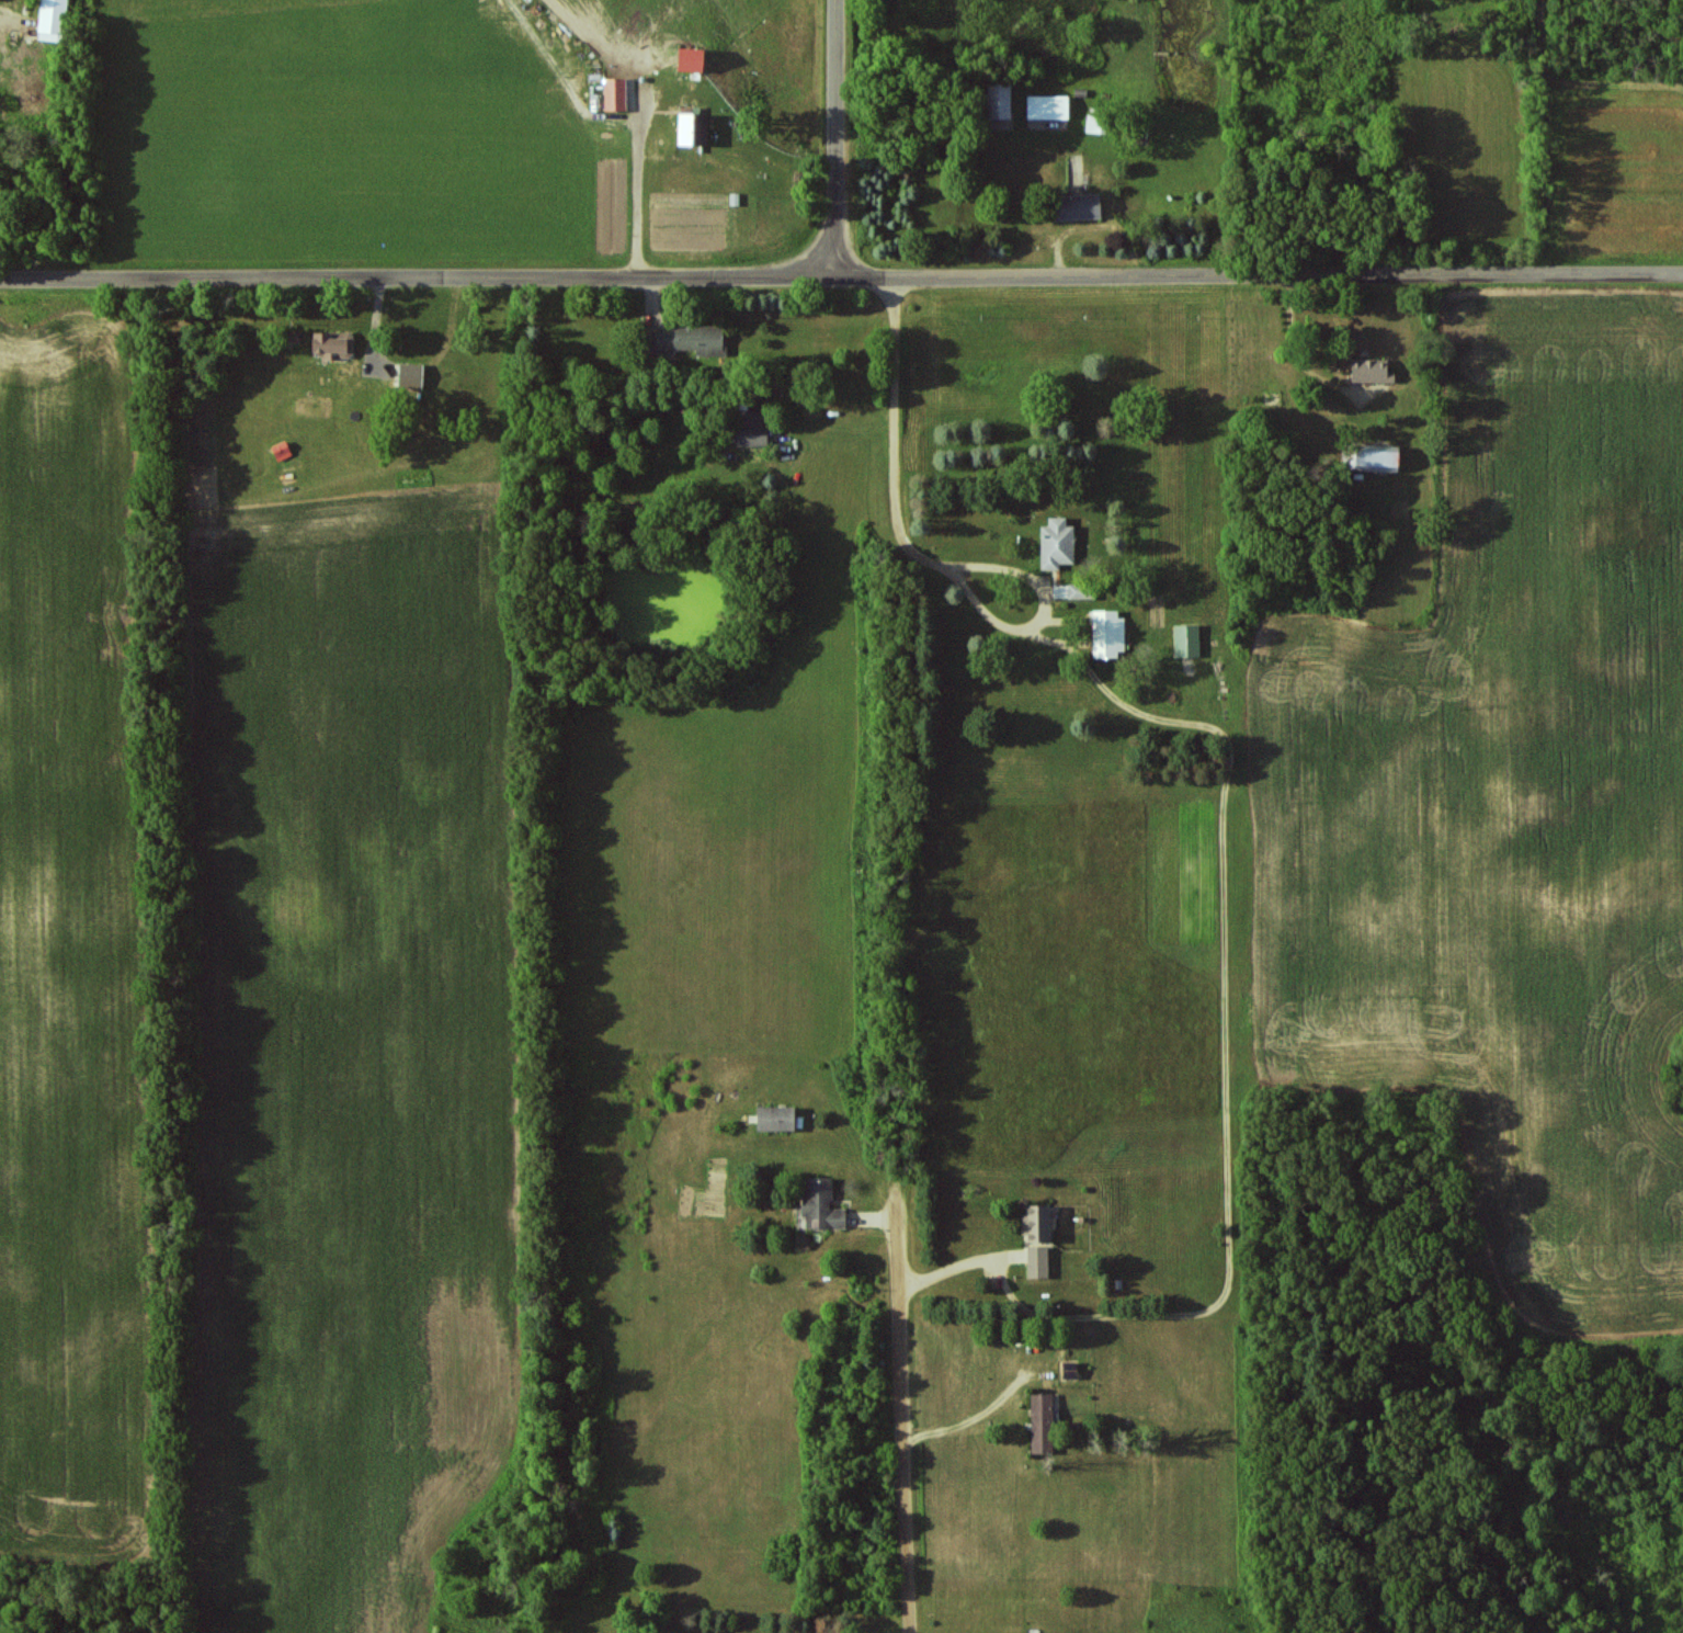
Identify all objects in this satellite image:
building: (55, 20)
building: (695, 59)
building: (617, 94)
building: (1050, 107)
building: (1098, 124)
building: (696, 128)
road: (833, 137)
road: (645, 190)
building: (1082, 206)
road: (1256, 274)
road: (416, 277)
building: (695, 339)
building: (336, 344)
building: (1374, 371)
building: (413, 375)
building: (755, 429)
building: (1385, 458)
road: (898, 478)
building: (1060, 543)
building: (1082, 591)
road: (1016, 630)
building: (1110, 634)
building: (1190, 640)
building: (780, 1119)
building: (825, 1205)
building: (1040, 1224)
building: (1040, 1262)
road: (957, 1267)
road: (901, 1318)
road: (969, 1421)
building: (1045, 1424)

